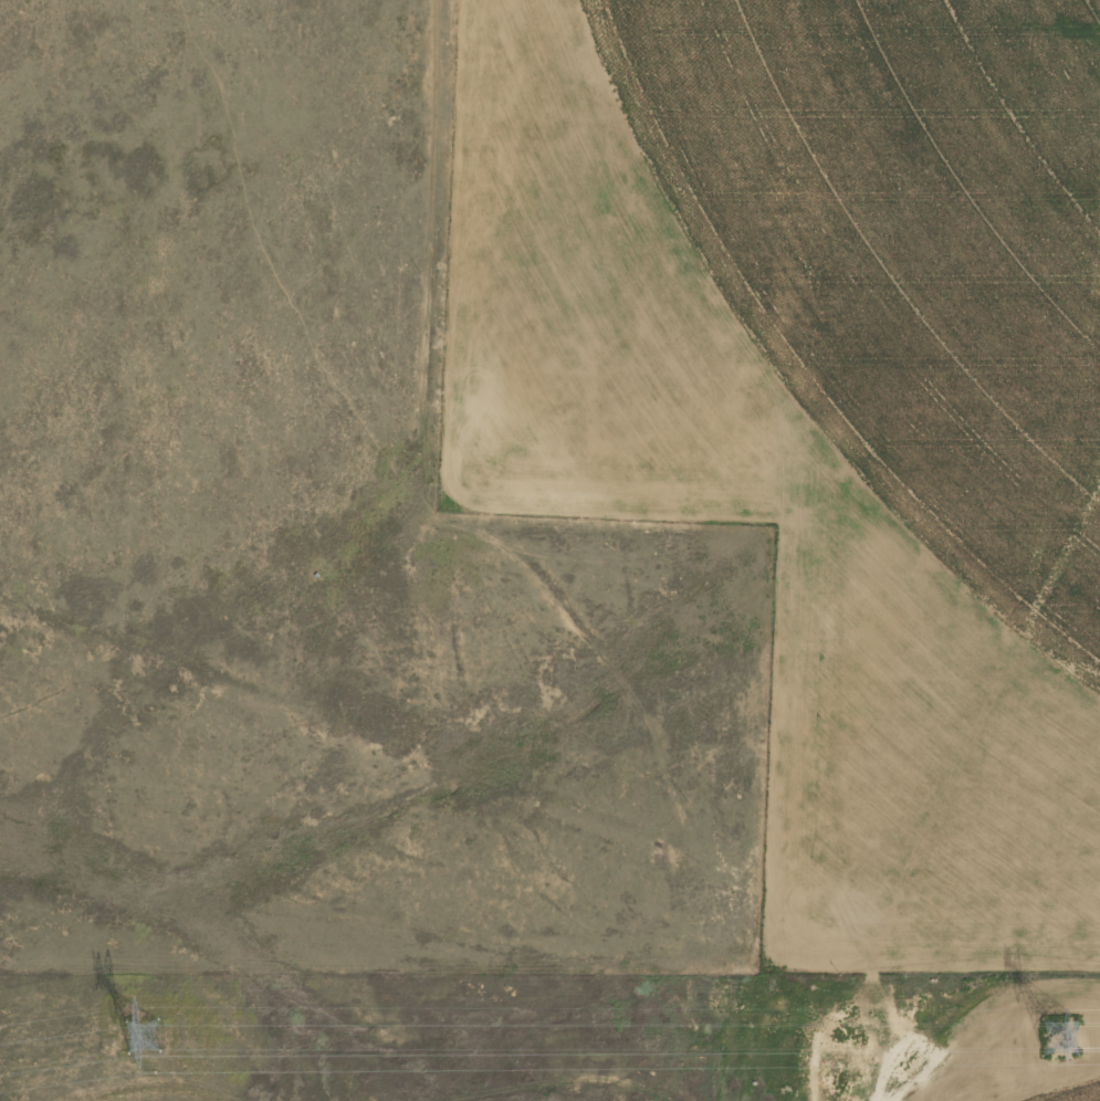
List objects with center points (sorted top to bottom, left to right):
power tower: (1058, 1036)
power tower: (138, 1037)
road: (832, 1083)

